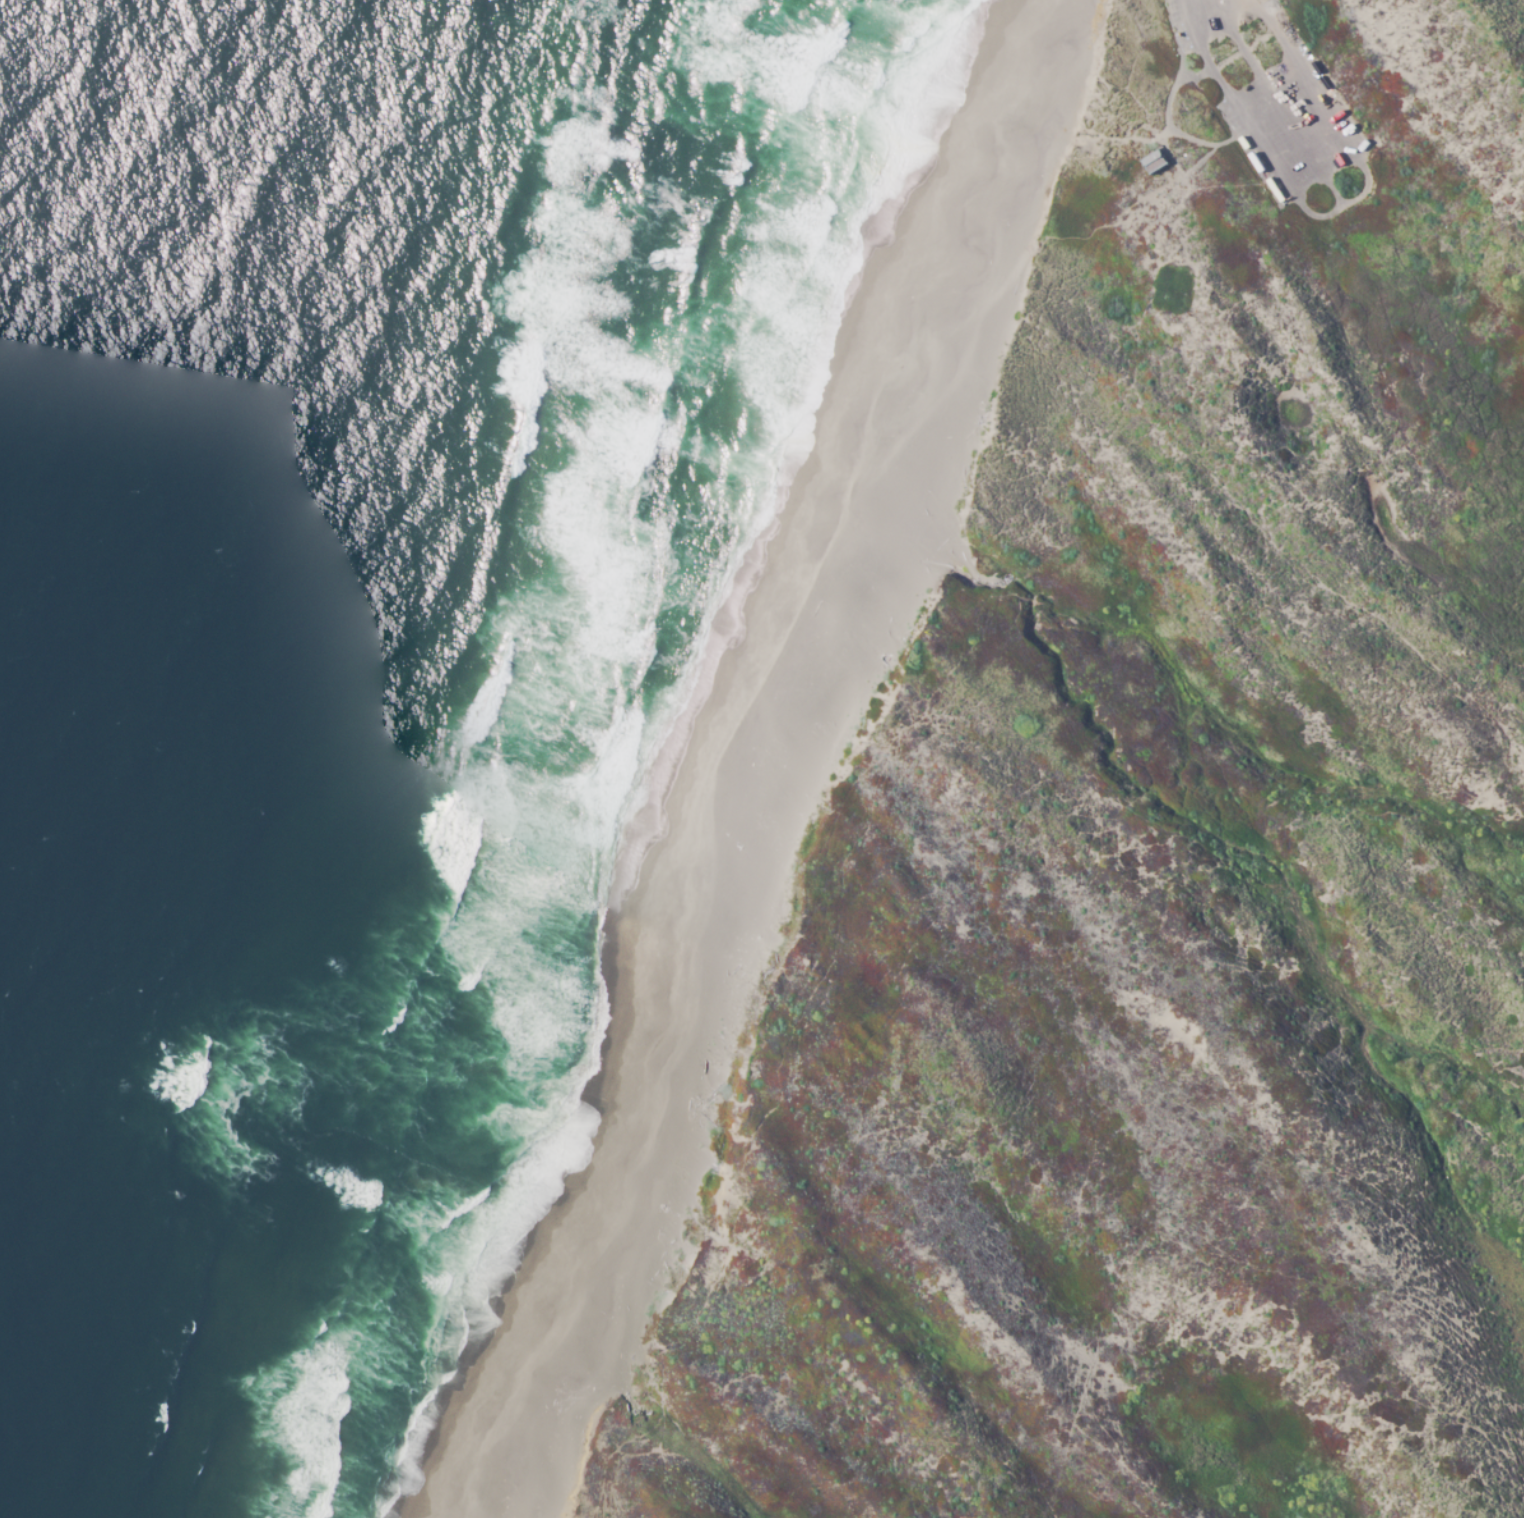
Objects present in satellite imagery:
road: (1236, 57)
parking lot: (1276, 98)
road: (1277, 106)
road: (1218, 118)
road: (1173, 130)
road: (1111, 143)
road: (1177, 171)
road: (1325, 217)

